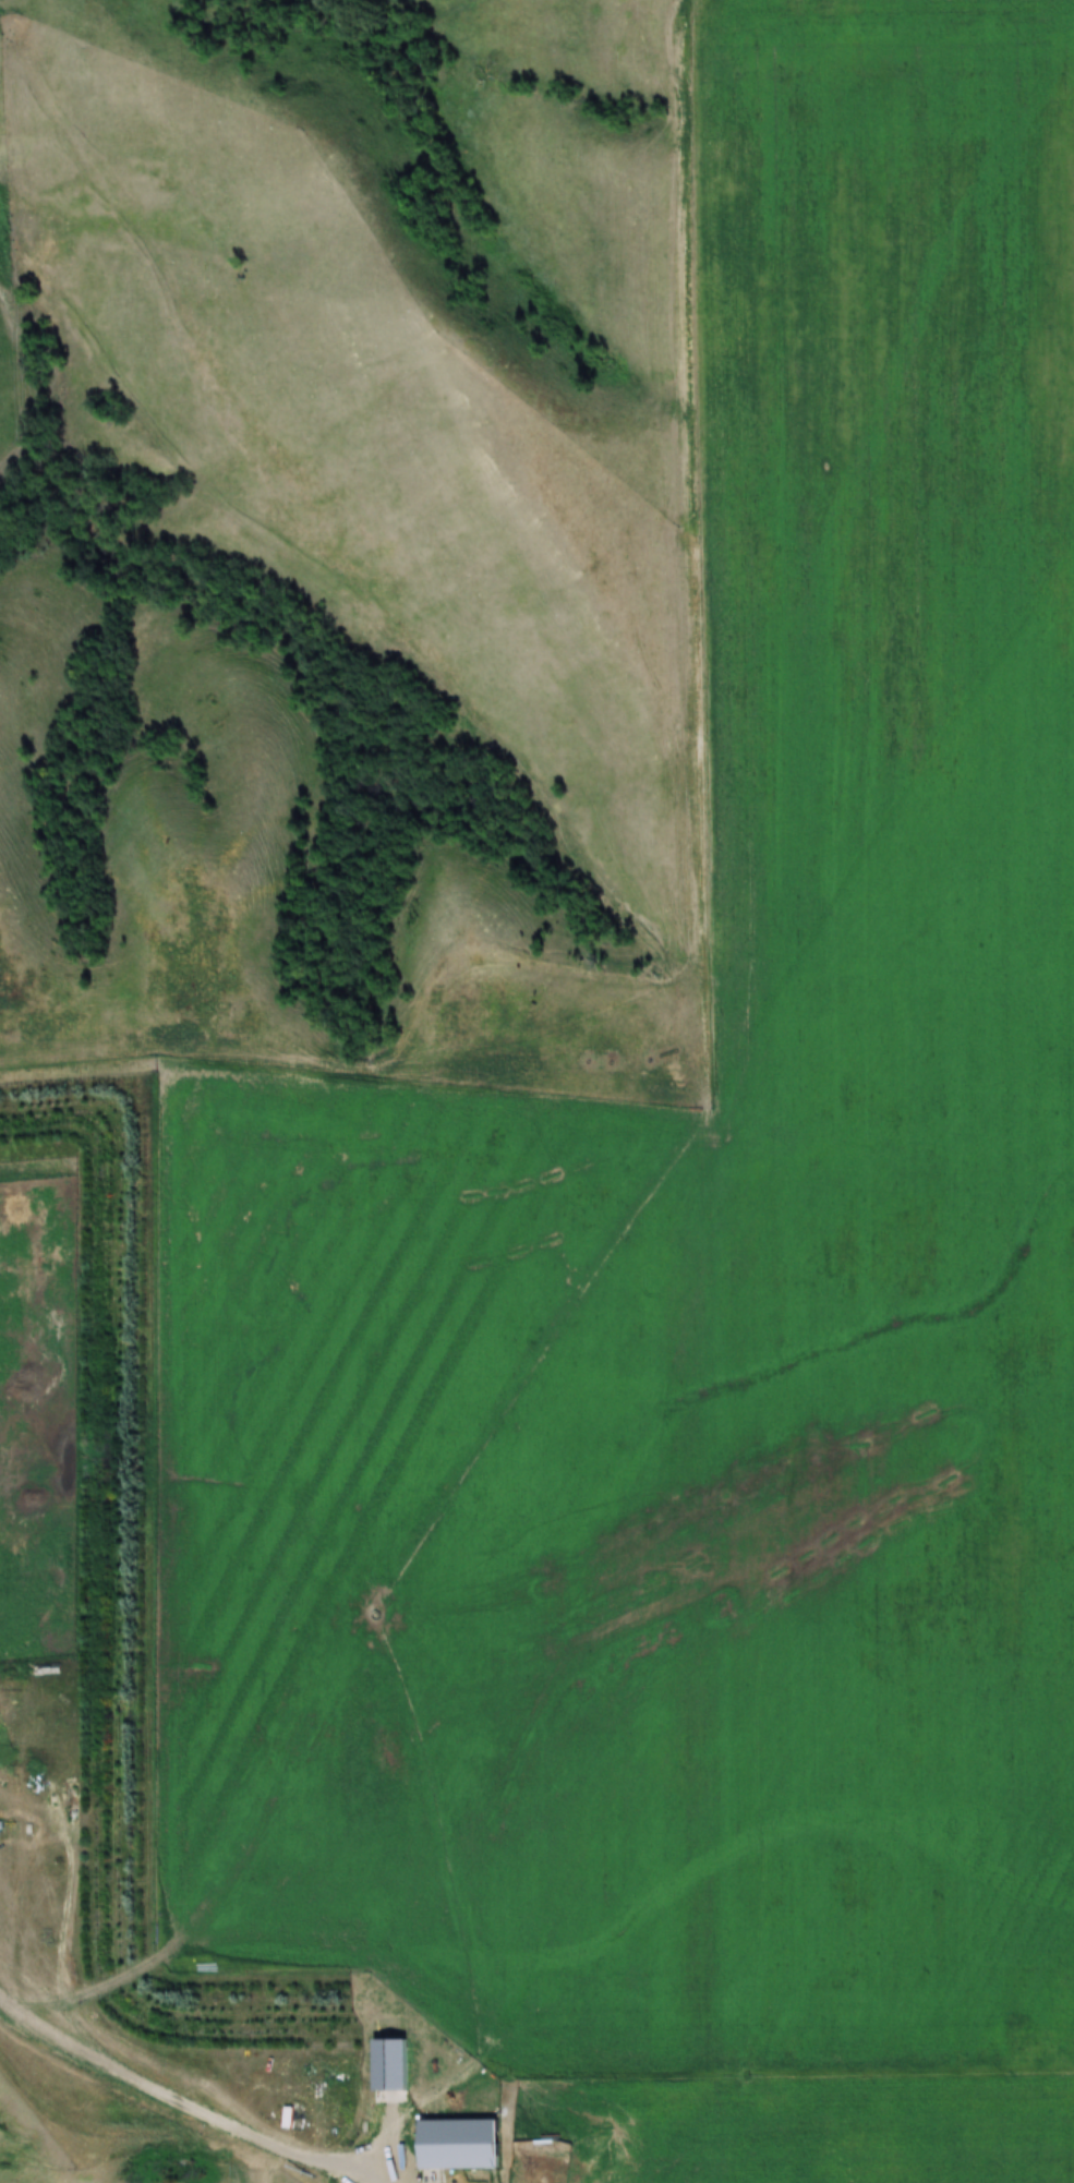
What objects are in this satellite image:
road: (702, 864)
building: (394, 2062)
road: (158, 2098)
building: (289, 2119)
building: (464, 2139)
road: (341, 2174)

